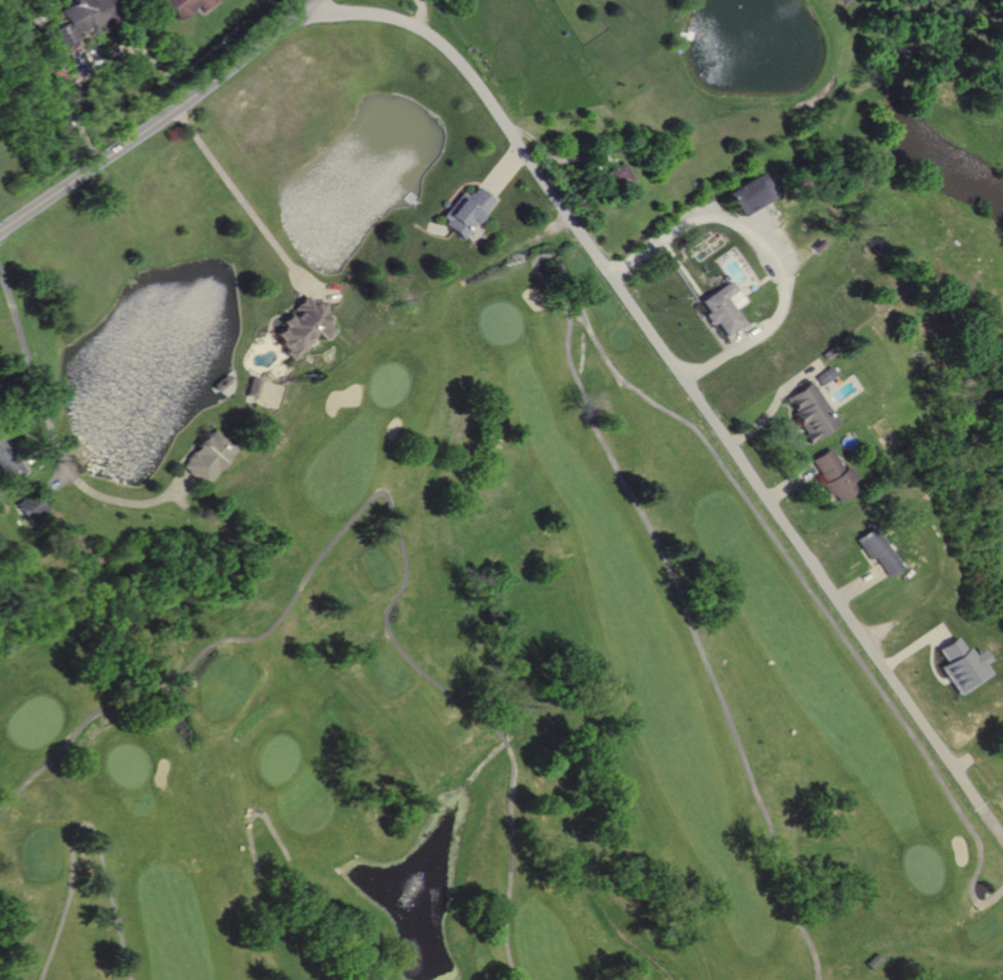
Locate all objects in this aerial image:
building: (183, 6)
road: (422, 13)
building: (87, 17)
road: (80, 53)
road: (97, 58)
road: (157, 121)
road: (504, 171)
building: (619, 176)
building: (749, 194)
road: (250, 208)
building: (467, 211)
road: (734, 223)
road: (757, 225)
road: (319, 293)
building: (722, 309)
road: (584, 324)
building: (305, 327)
road: (719, 357)
road: (665, 359)
building: (821, 374)
building: (256, 388)
road: (770, 401)
building: (805, 410)
road: (56, 436)
building: (209, 458)
building: (10, 461)
building: (832, 474)
road: (786, 480)
building: (31, 504)
road: (392, 507)
building: (877, 549)
road: (858, 583)
road: (916, 646)
road: (931, 664)
building: (963, 666)
park: (478, 699)
park: (494, 704)
road: (263, 815)
road: (990, 821)
road: (108, 891)
road: (67, 894)
building: (874, 962)

